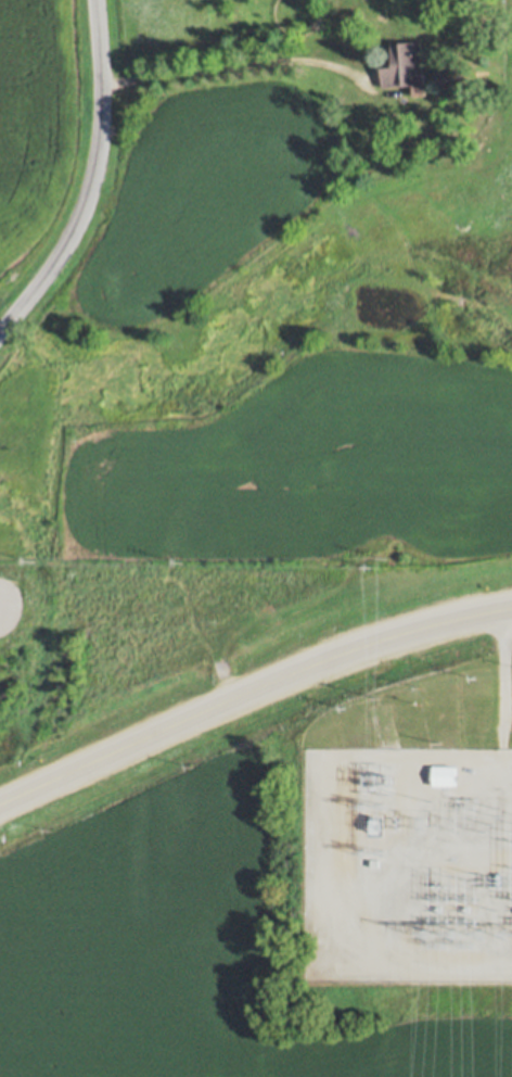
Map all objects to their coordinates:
building: (406, 59)
road: (232, 64)
road: (94, 181)
road: (251, 693)
building: (447, 770)
power substation: (409, 863)

